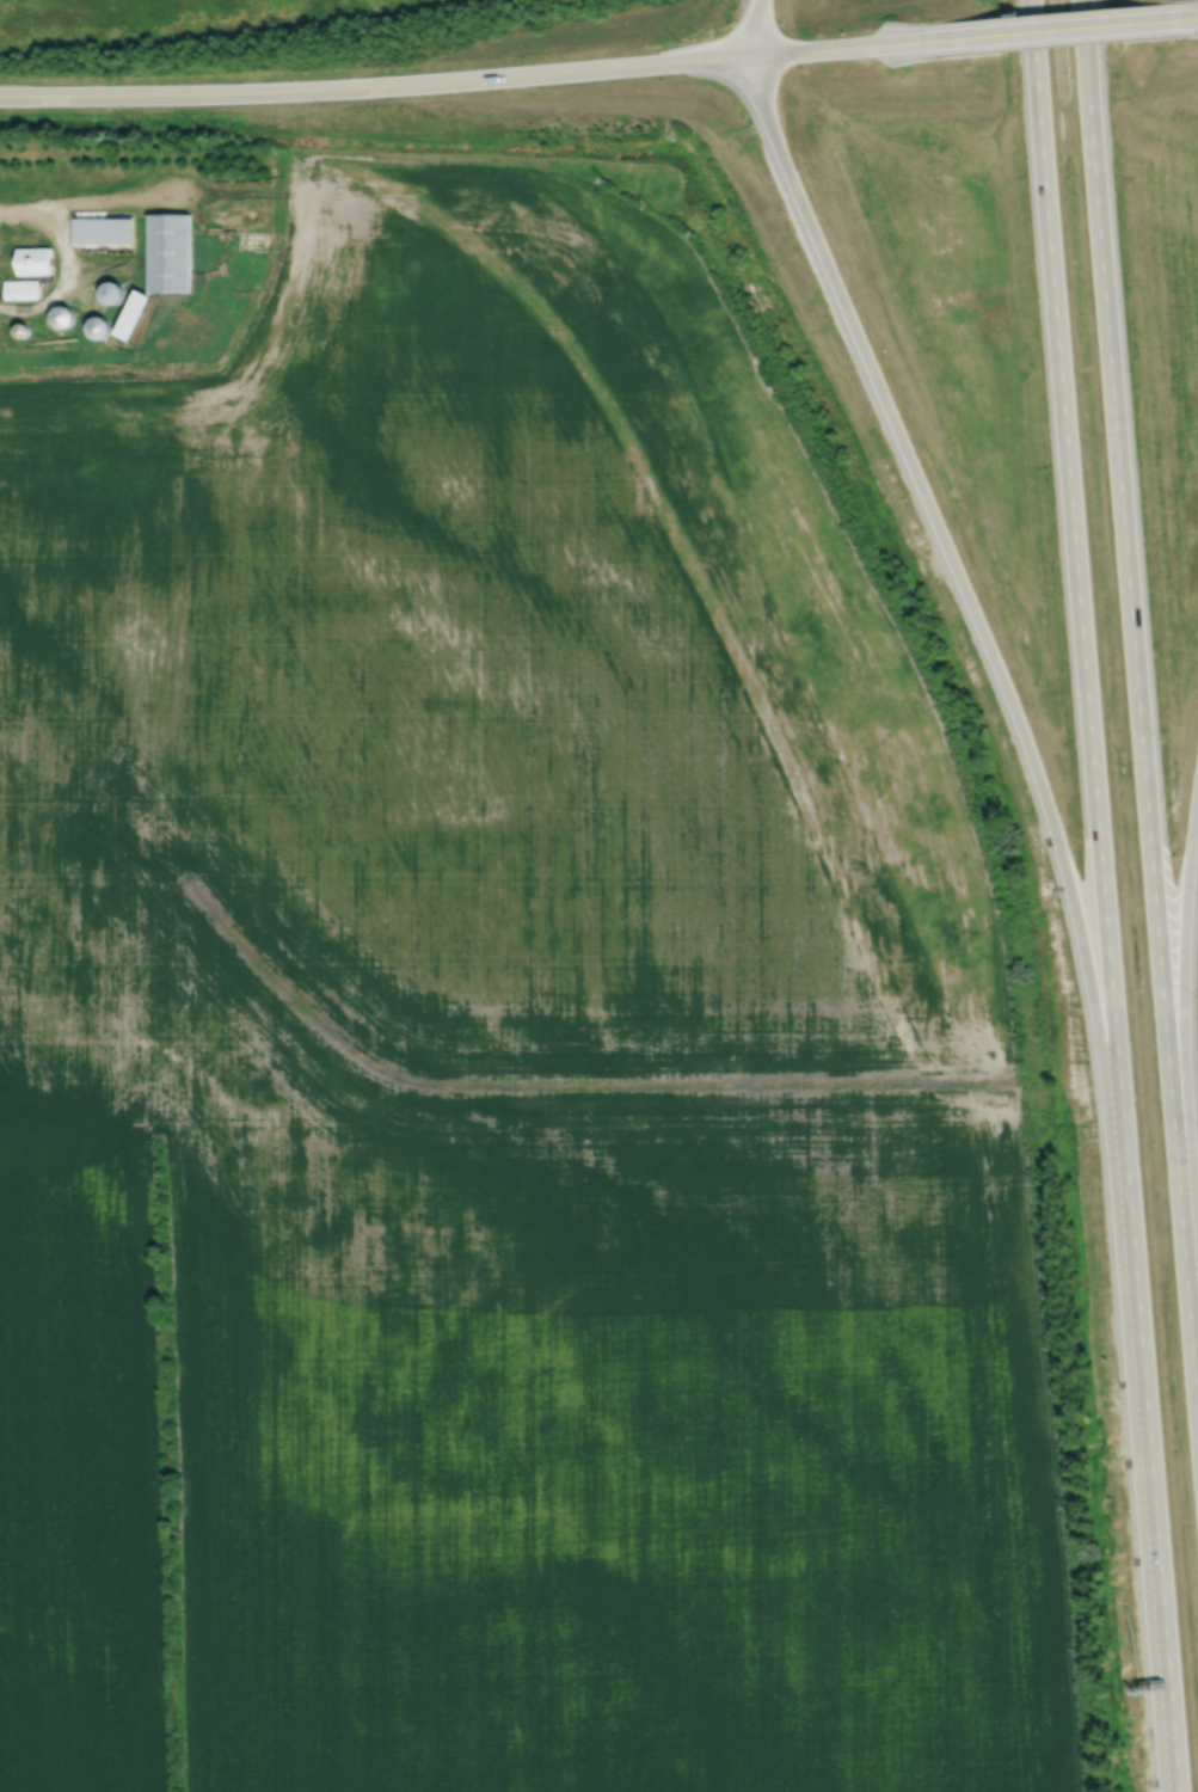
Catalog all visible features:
road: (1188, 18)
road: (1058, 29)
road: (469, 78)
road: (133, 196)
building: (103, 229)
building: (168, 253)
road: (66, 256)
building: (33, 260)
building: (20, 289)
building: (111, 291)
building: (135, 314)
building: (62, 315)
building: (99, 326)
building: (20, 329)
road: (1012, 704)
road: (1138, 710)
road: (1101, 861)
road: (1184, 1017)
crop: (499, 1064)
road: (1171, 1757)
road: (1175, 1757)

